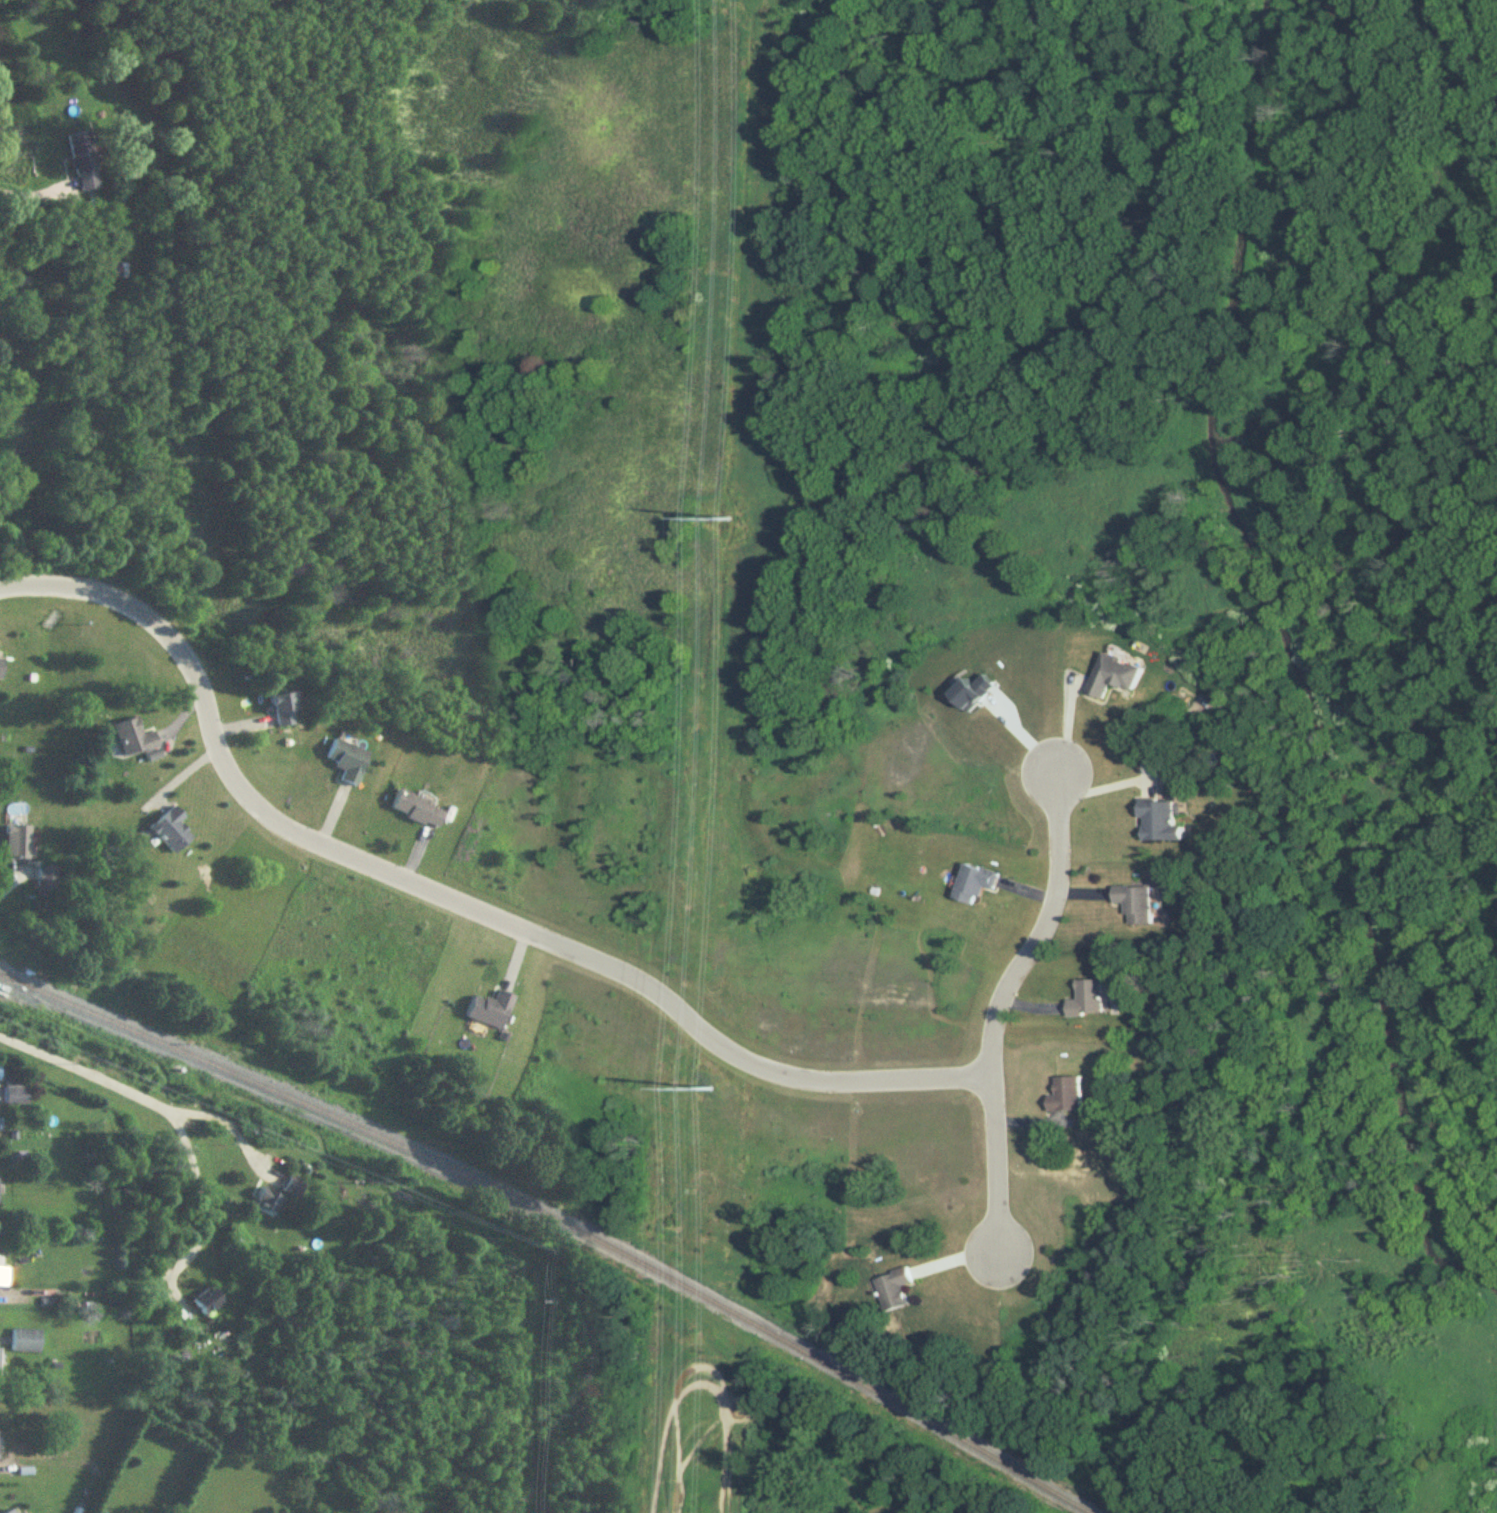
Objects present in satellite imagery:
building: (84, 161)
road: (32, 190)
building: (114, 271)
power tower: (730, 519)
building: (0, 664)
building: (1112, 675)
building: (284, 707)
road: (1069, 721)
building: (133, 735)
building: (347, 758)
building: (417, 806)
building: (1157, 821)
building: (172, 827)
building: (18, 840)
building: (46, 878)
road: (10, 880)
building: (974, 882)
road: (449, 899)
building: (1133, 903)
building: (1086, 998)
building: (490, 1008)
road: (1001, 1008)
power tower: (711, 1089)
building: (15, 1090)
building: (1065, 1095)
road: (169, 1107)
road: (231, 1120)
building: (291, 1185)
building: (268, 1200)
railway: (561, 1222)
building: (0, 1267)
building: (894, 1288)
road: (16, 1291)
building: (208, 1300)
building: (24, 1340)
building: (0, 1361)
building: (9, 1511)

